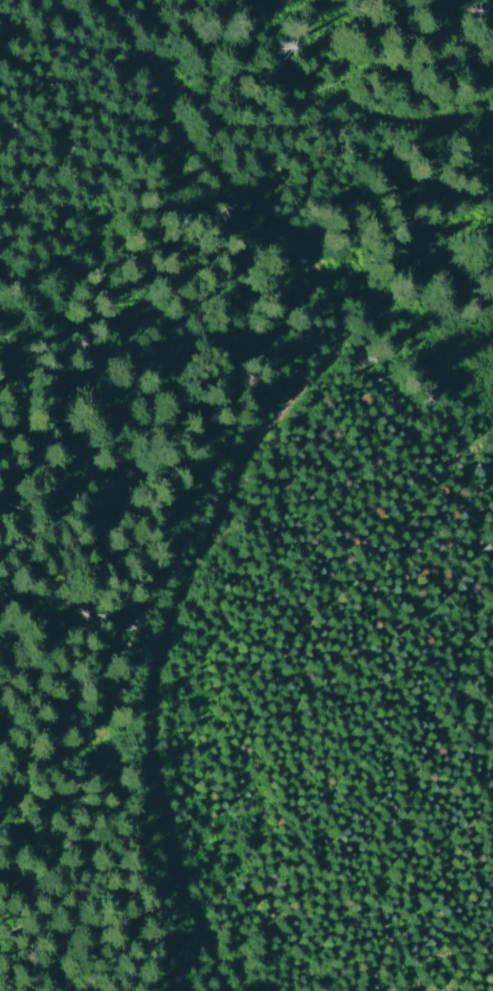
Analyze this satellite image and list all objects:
road: (267, 131)
road: (233, 485)

